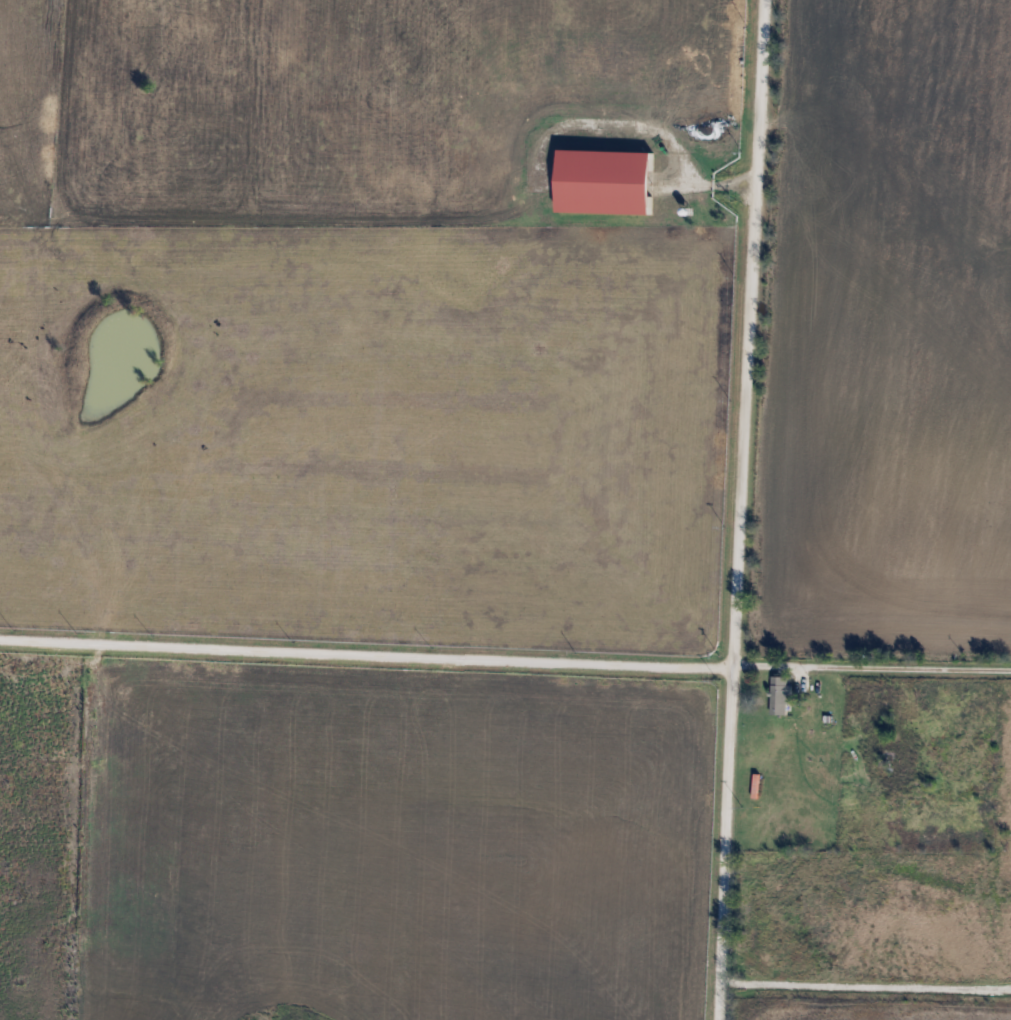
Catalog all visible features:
building: (673, 215)
road: (738, 510)
road: (365, 652)
road: (871, 667)
building: (777, 695)
building: (804, 715)
building: (883, 761)
road: (863, 984)

